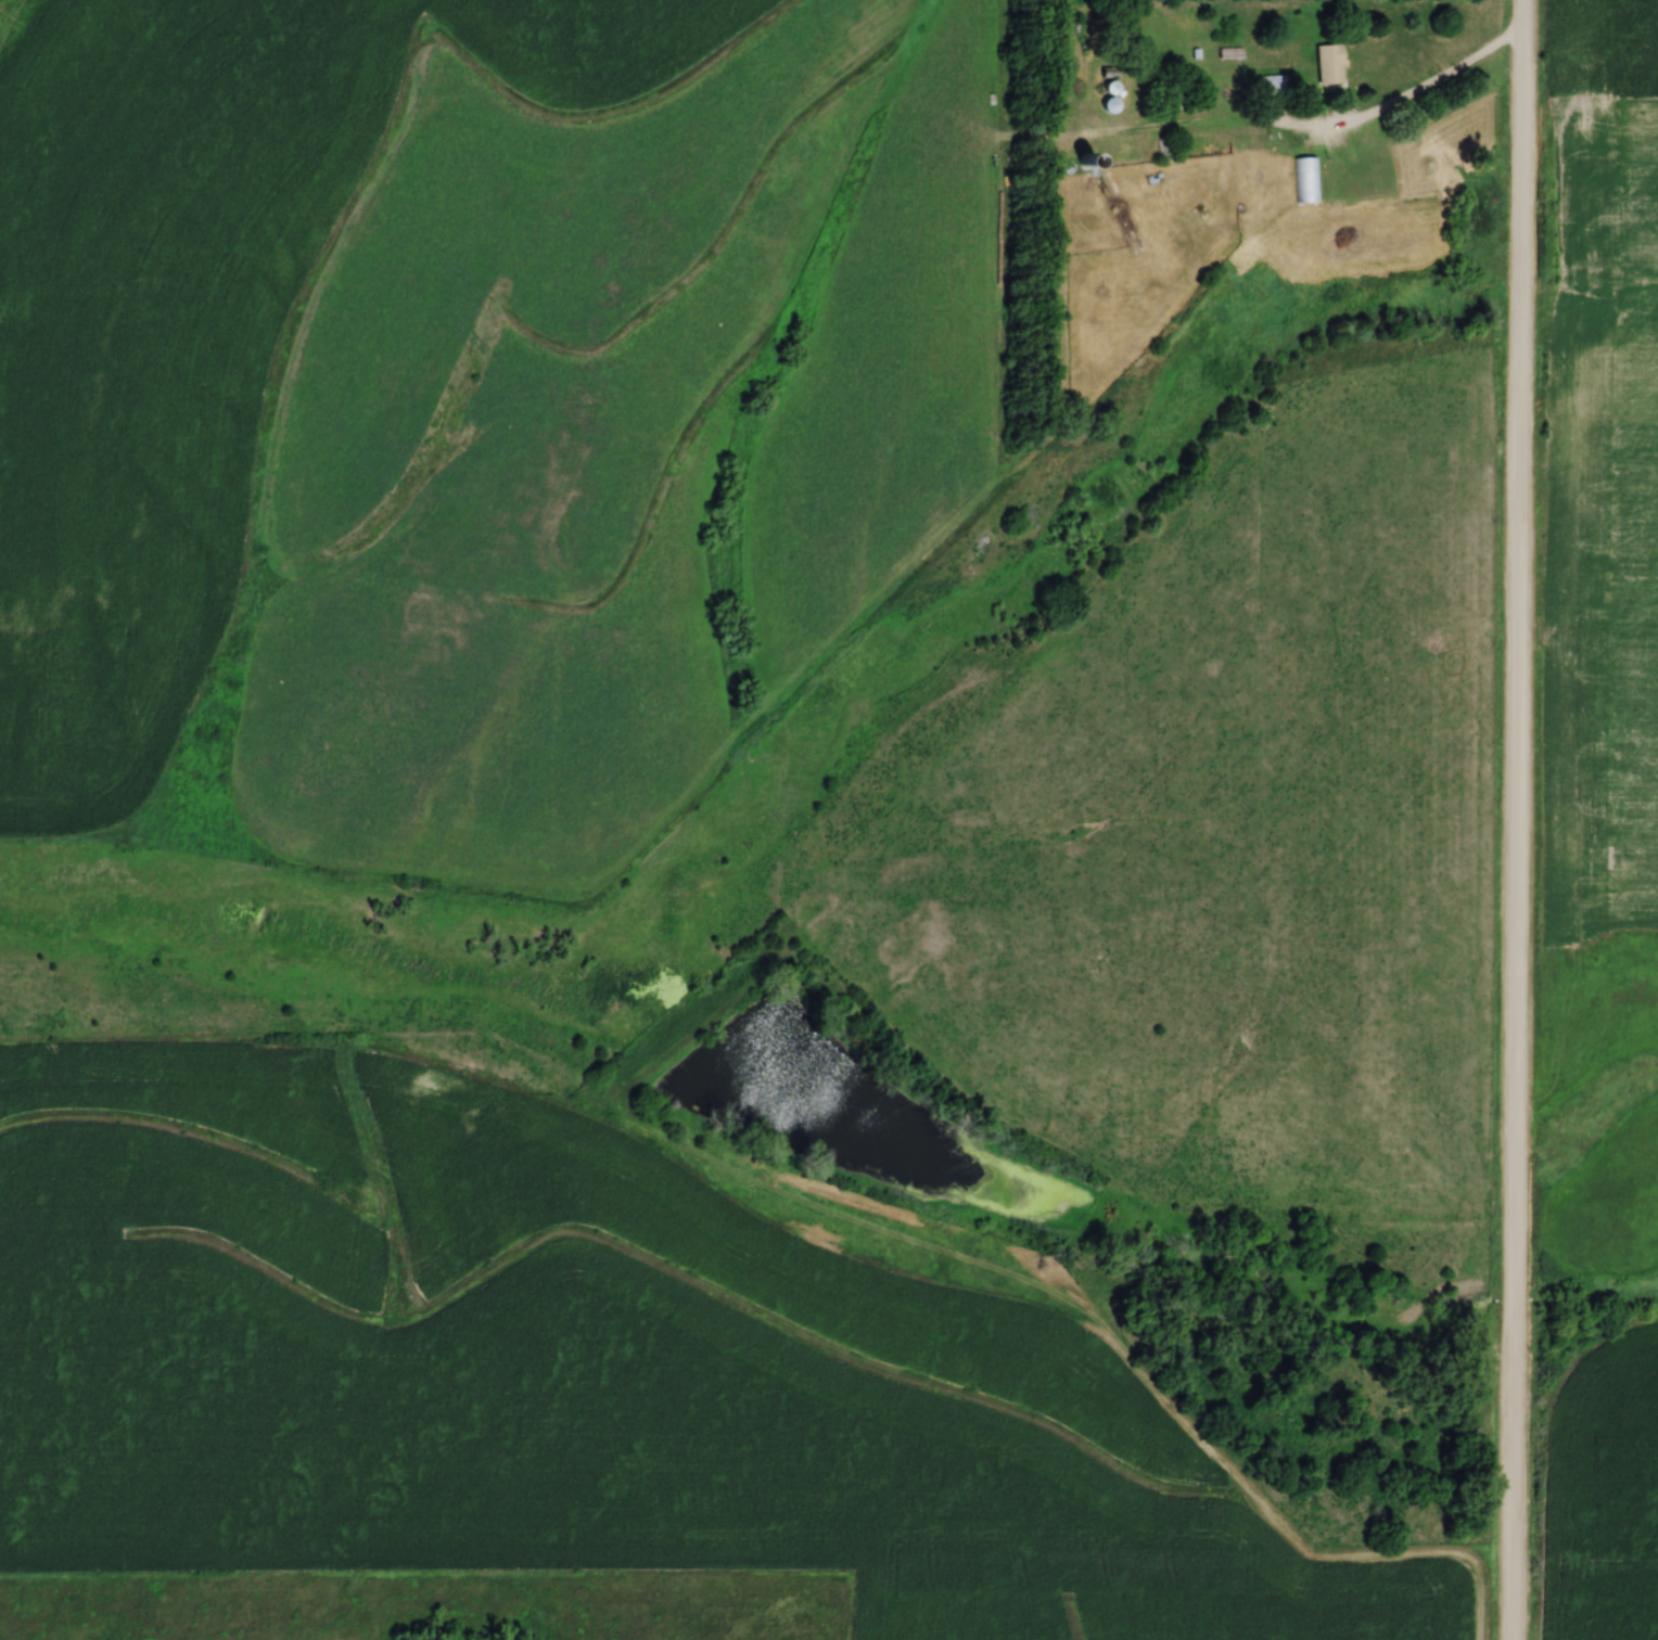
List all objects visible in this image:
building: (1328, 62)
building: (1272, 85)
road: (1399, 101)
building: (1305, 178)
road: (1515, 820)

